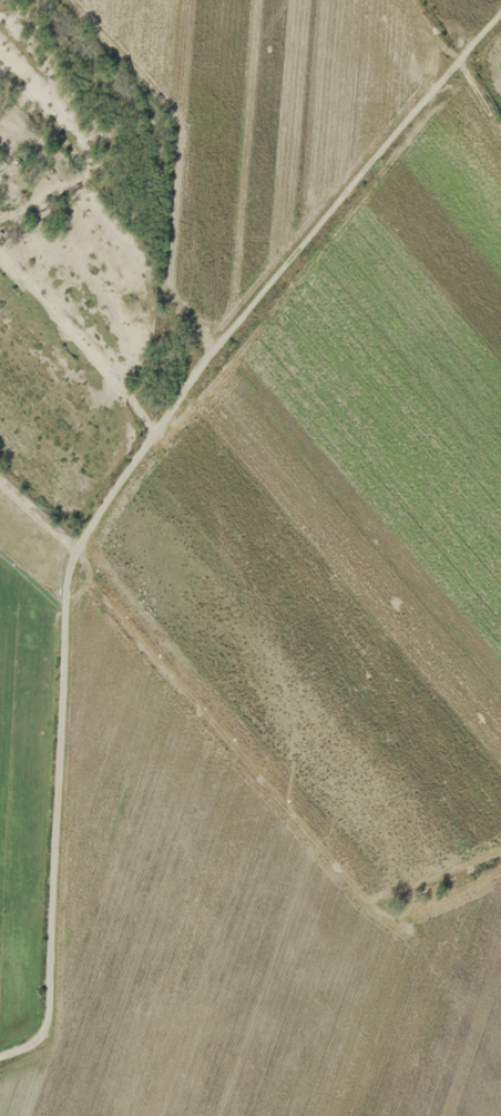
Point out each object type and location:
road: (115, 481)

